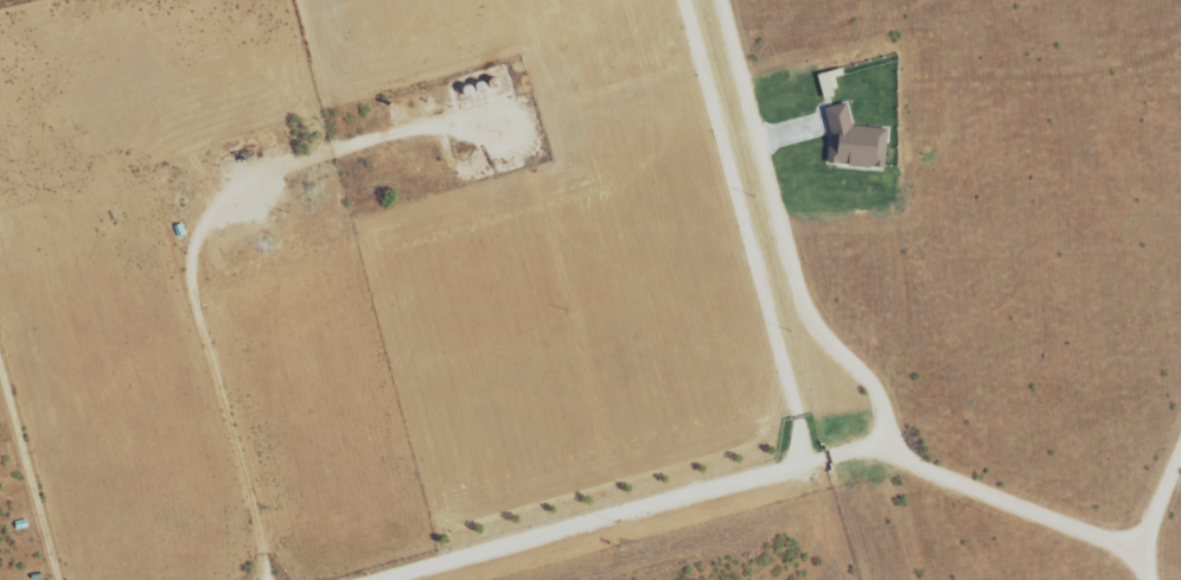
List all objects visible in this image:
building: (854, 142)
road: (746, 234)
road: (780, 240)
road: (28, 472)
road: (1029, 514)
road: (594, 521)

